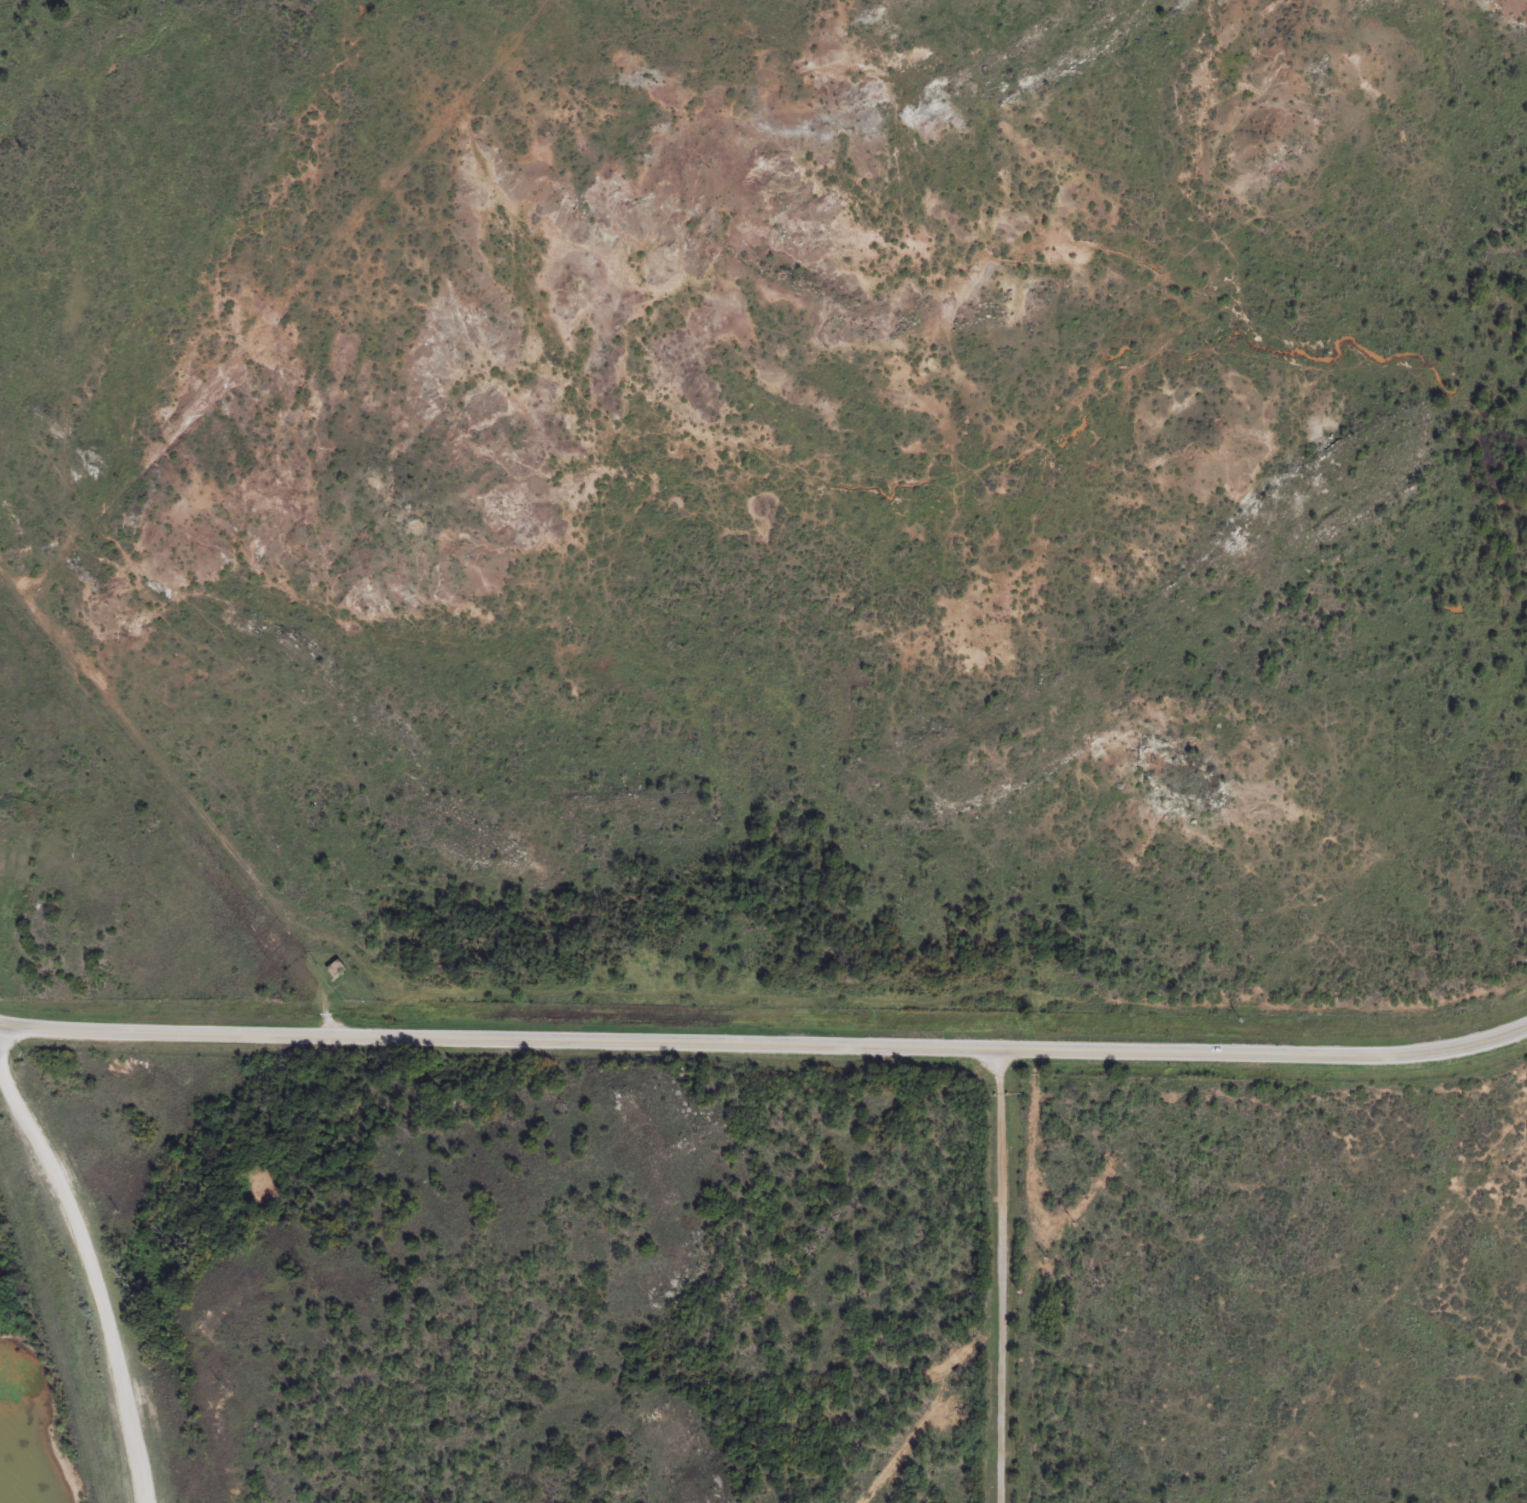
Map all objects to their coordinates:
road: (176, 809)
building: (333, 967)
road: (765, 1045)
road: (93, 1269)
road: (1011, 1277)
road: (1233, 1284)

